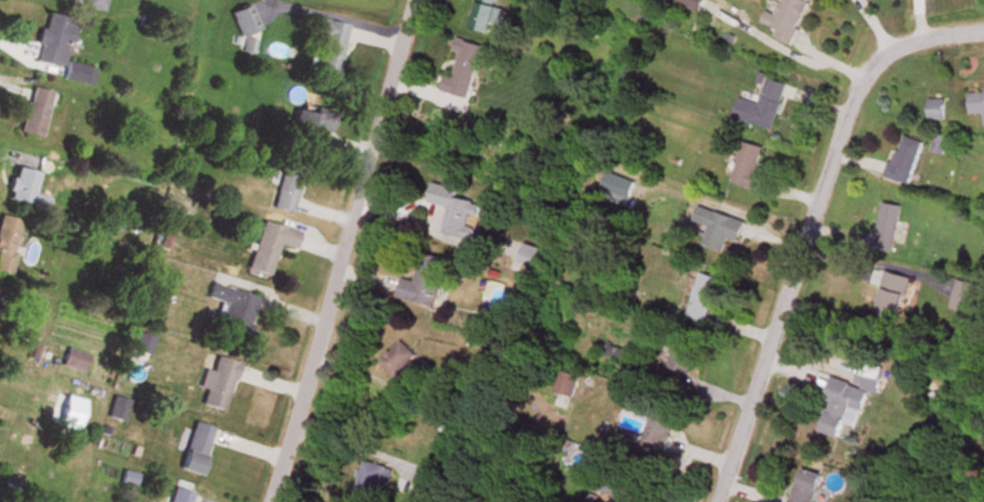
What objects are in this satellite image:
building: (485, 16)
building: (787, 18)
building: (55, 40)
building: (328, 48)
building: (464, 72)
building: (77, 74)
building: (977, 103)
building: (763, 108)
building: (937, 110)
building: (36, 113)
building: (309, 128)
building: (941, 150)
building: (904, 161)
building: (746, 164)
building: (614, 180)
building: (22, 184)
building: (281, 186)
building: (453, 209)
road: (807, 223)
building: (884, 224)
building: (717, 225)
building: (6, 238)
building: (264, 244)
road: (339, 251)
building: (423, 280)
building: (890, 292)
building: (701, 296)
building: (229, 306)
building: (138, 341)
building: (678, 352)
building: (396, 356)
building: (70, 357)
building: (215, 382)
building: (845, 398)
building: (114, 406)
building: (192, 446)
building: (369, 482)
building: (803, 486)
building: (626, 487)
building: (177, 493)

